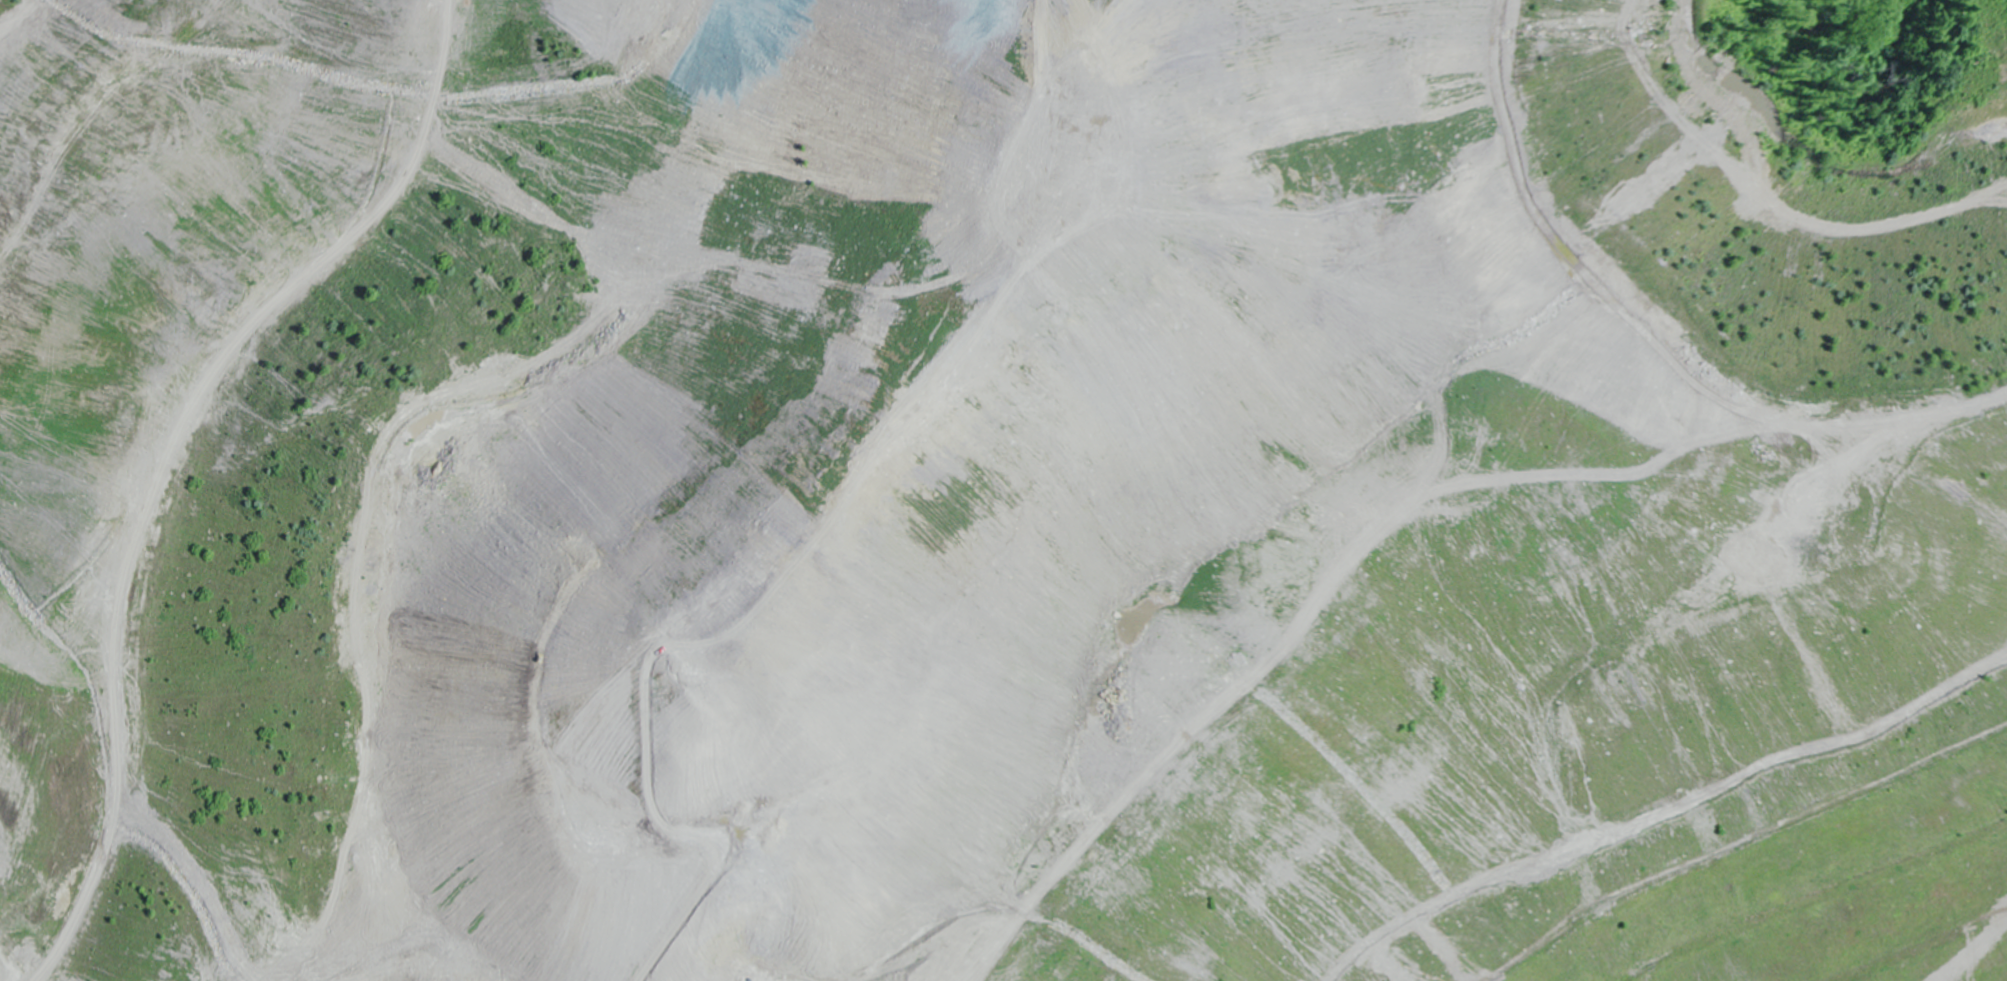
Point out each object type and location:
building: (1695, 507)

